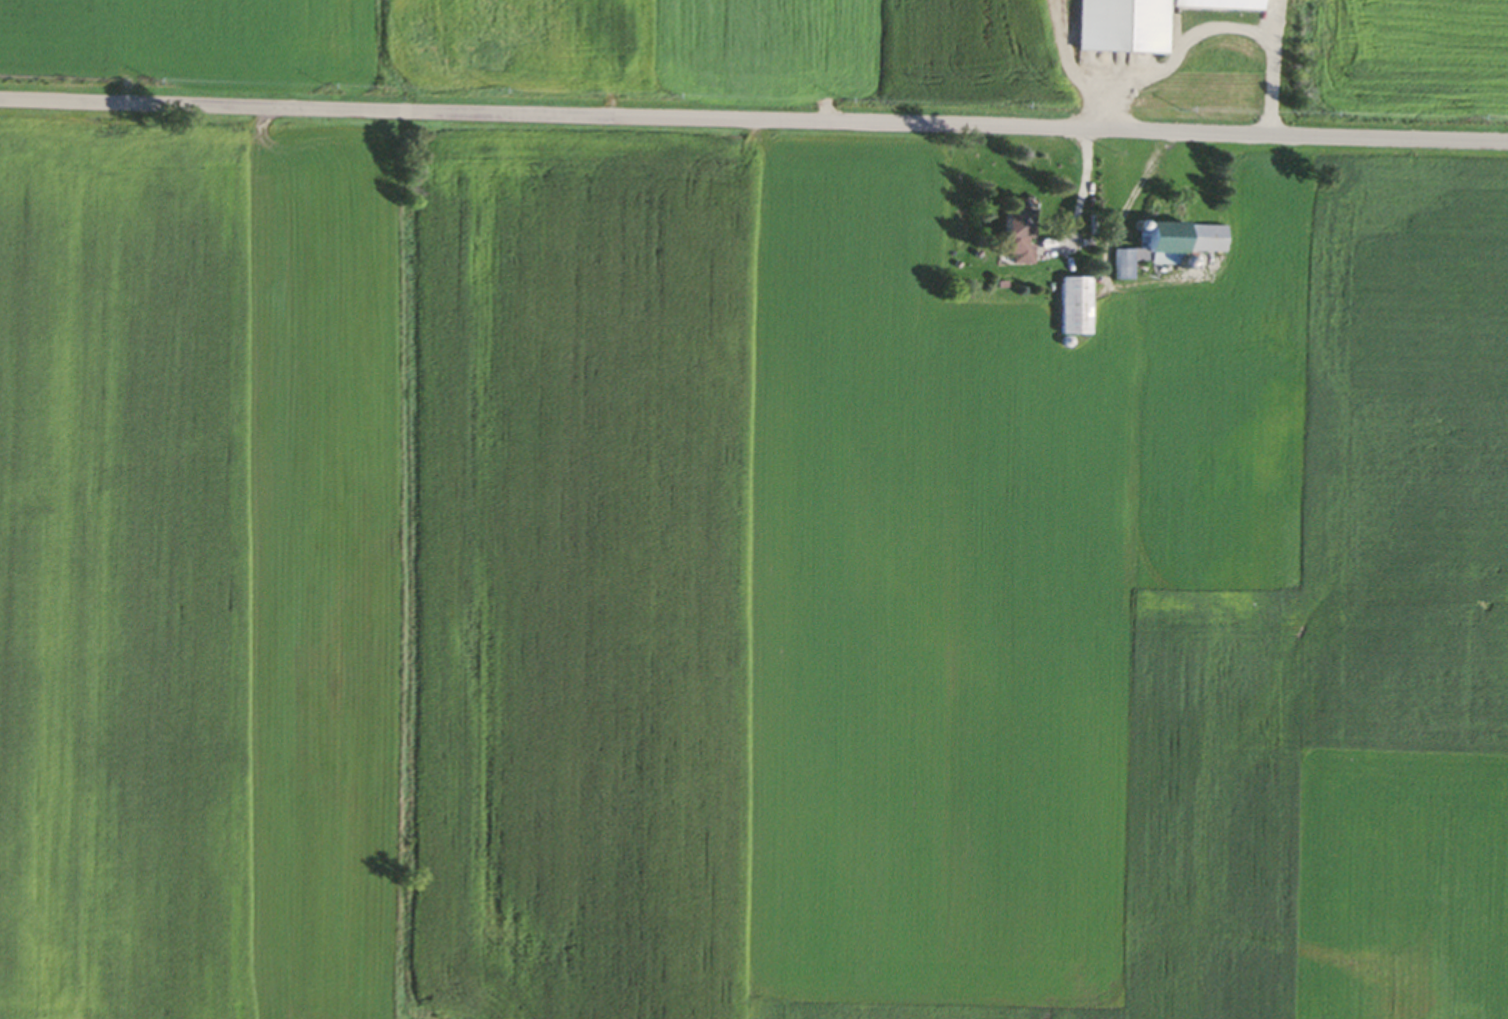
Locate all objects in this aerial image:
road: (753, 120)
building: (1008, 237)
building: (1162, 244)
building: (1070, 305)

